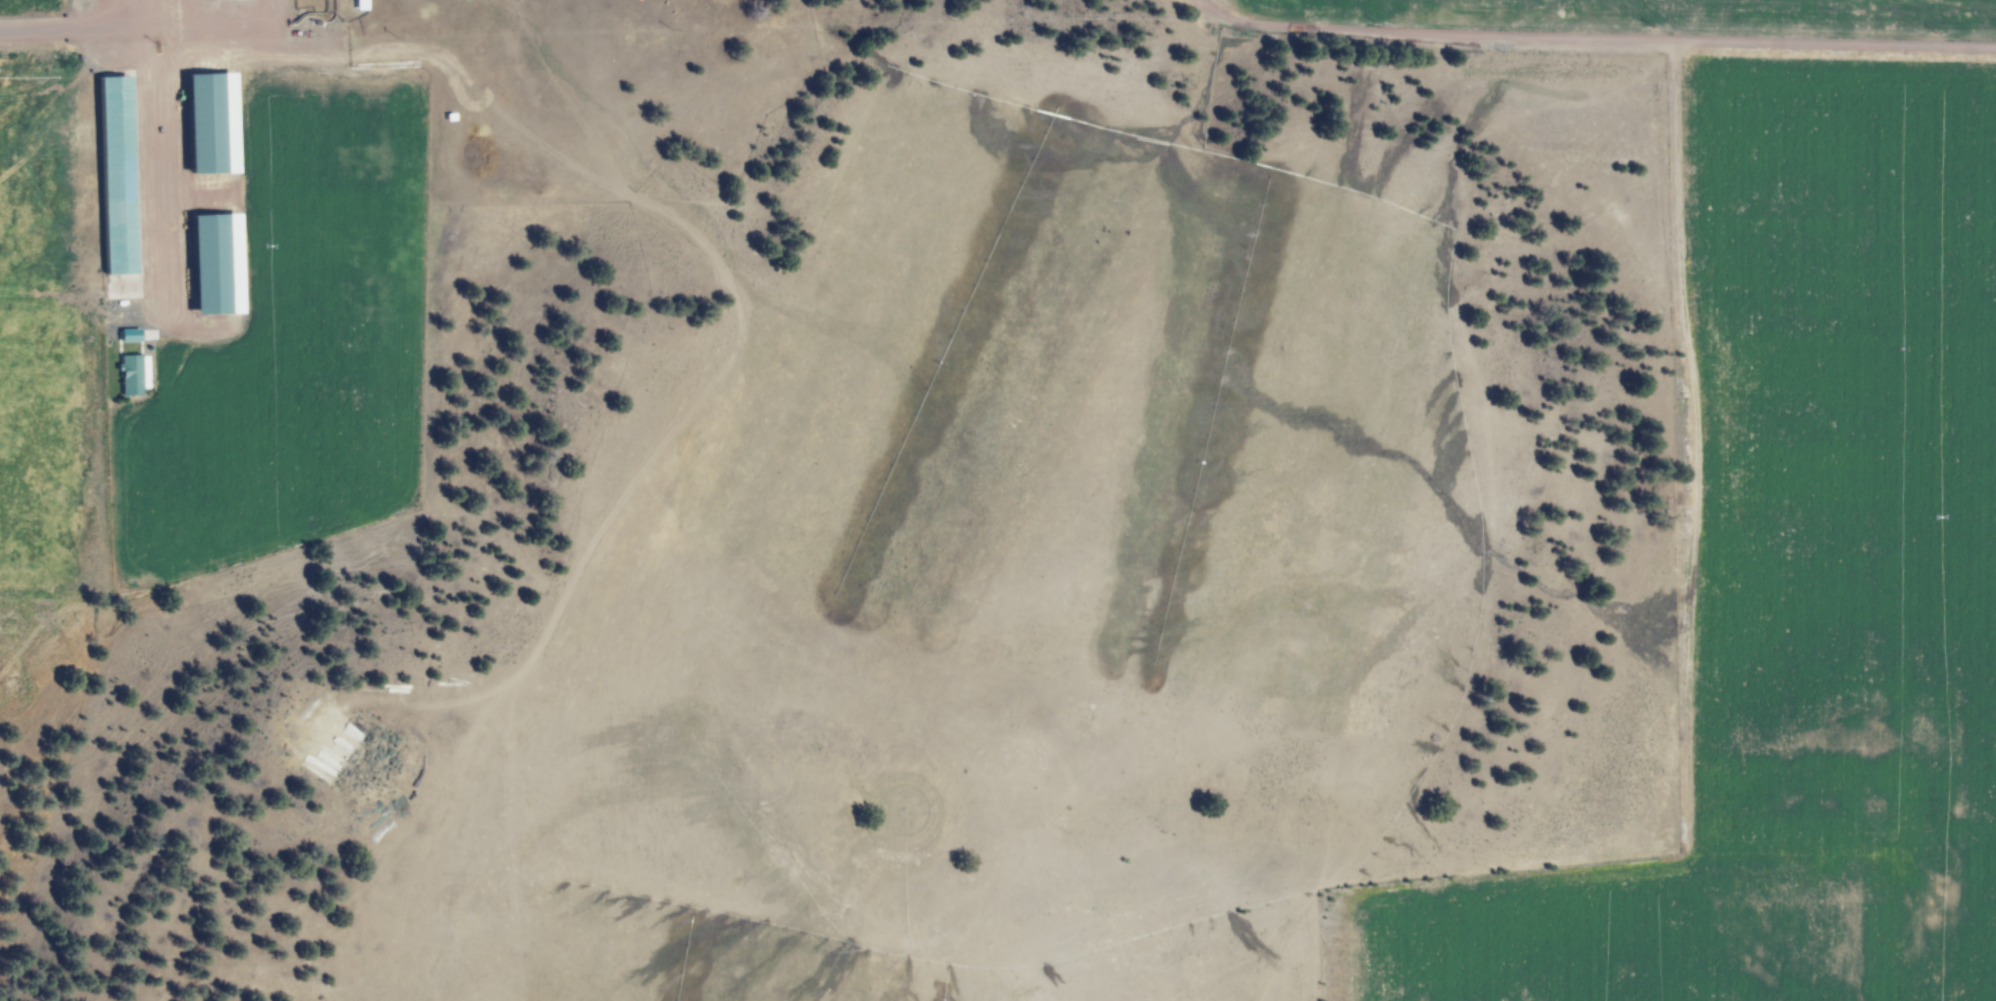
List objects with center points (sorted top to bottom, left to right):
road: (63, 31)
road: (1593, 39)
building: (204, 124)
building: (111, 175)
building: (209, 264)
building: (126, 336)
building: (131, 374)

